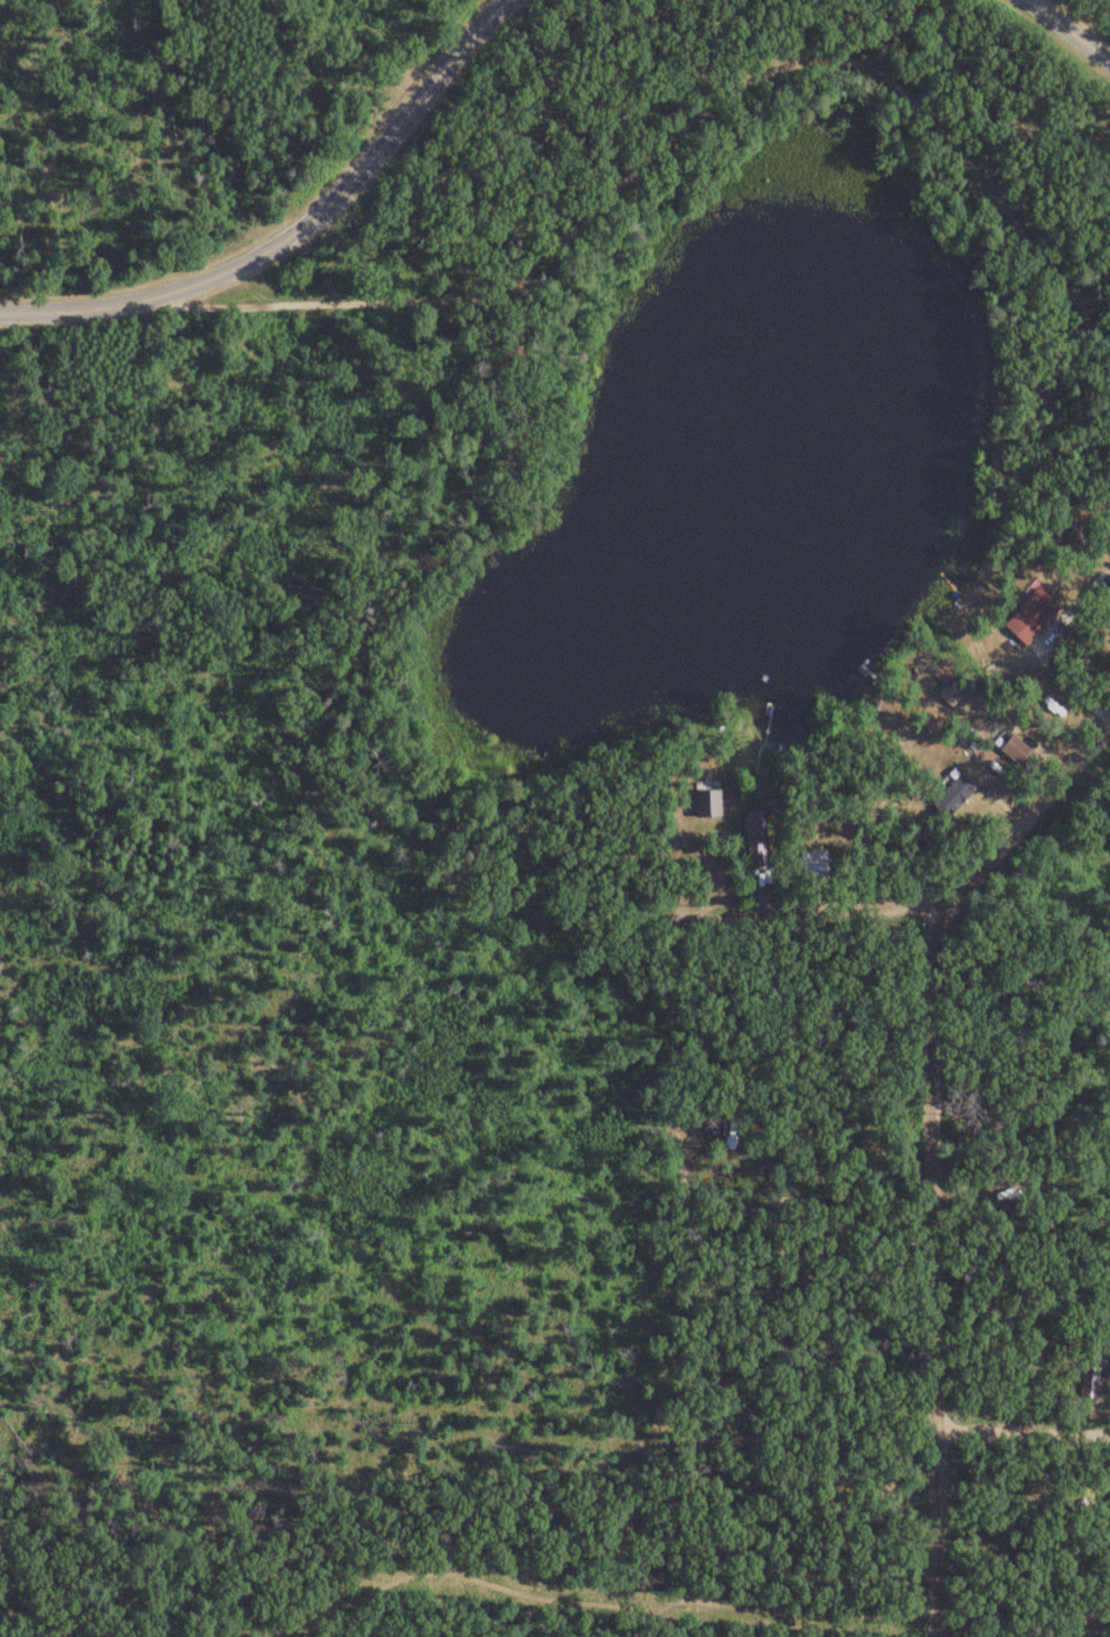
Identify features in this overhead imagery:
road: (1073, 27)
road: (294, 225)
building: (1034, 616)
road: (478, 888)
road: (917, 1150)
road: (1021, 1432)
road: (396, 1446)

